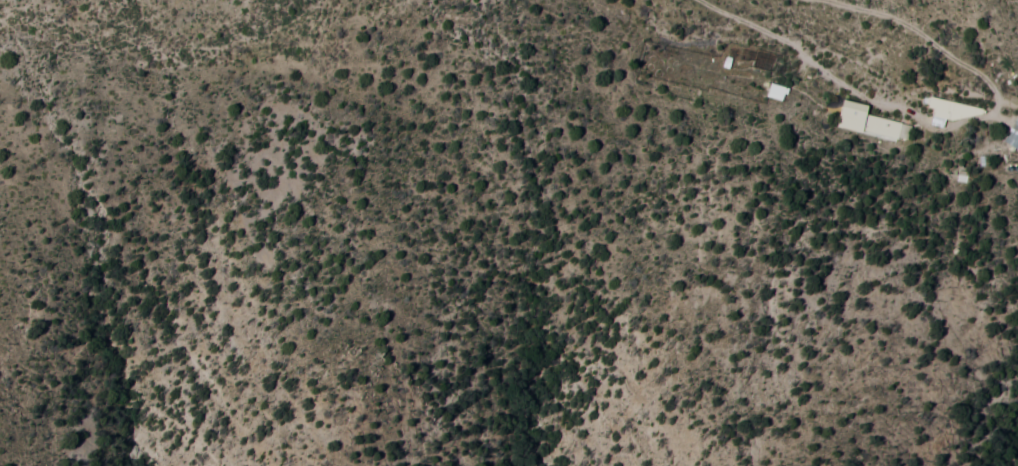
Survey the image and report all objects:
building: (724, 55)
building: (774, 85)
road: (1005, 97)
building: (948, 103)
building: (864, 113)
road: (931, 114)
building: (1012, 127)
building: (979, 154)
building: (960, 169)

